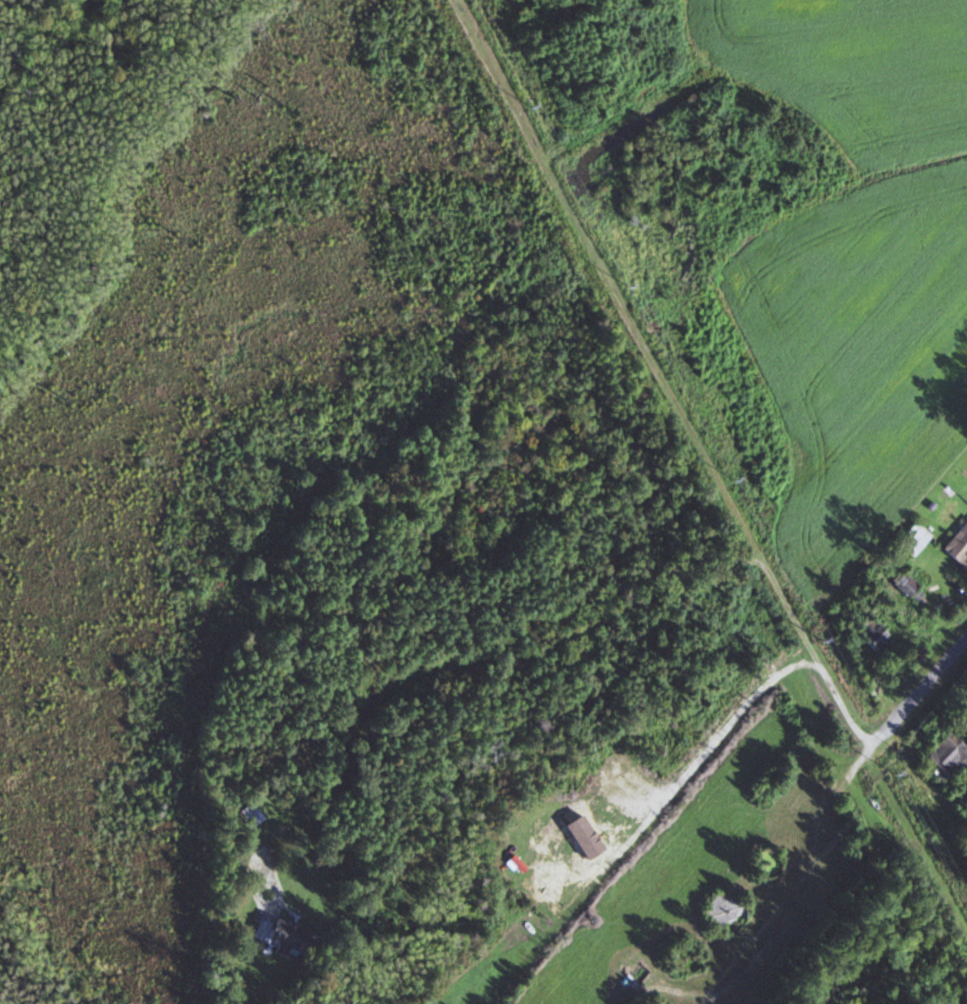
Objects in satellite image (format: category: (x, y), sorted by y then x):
power tower: (547, 109)
power tower: (648, 294)
power tower: (758, 486)
building: (911, 539)
building: (956, 544)
building: (905, 587)
building: (869, 635)
power tower: (818, 638)
building: (943, 756)
power tower: (890, 778)
road: (821, 812)
building: (253, 816)
wastewater plant: (764, 861)
wastewater plant: (730, 910)
building: (295, 937)
wastewater plant: (691, 956)
wastewater plant: (648, 1000)

